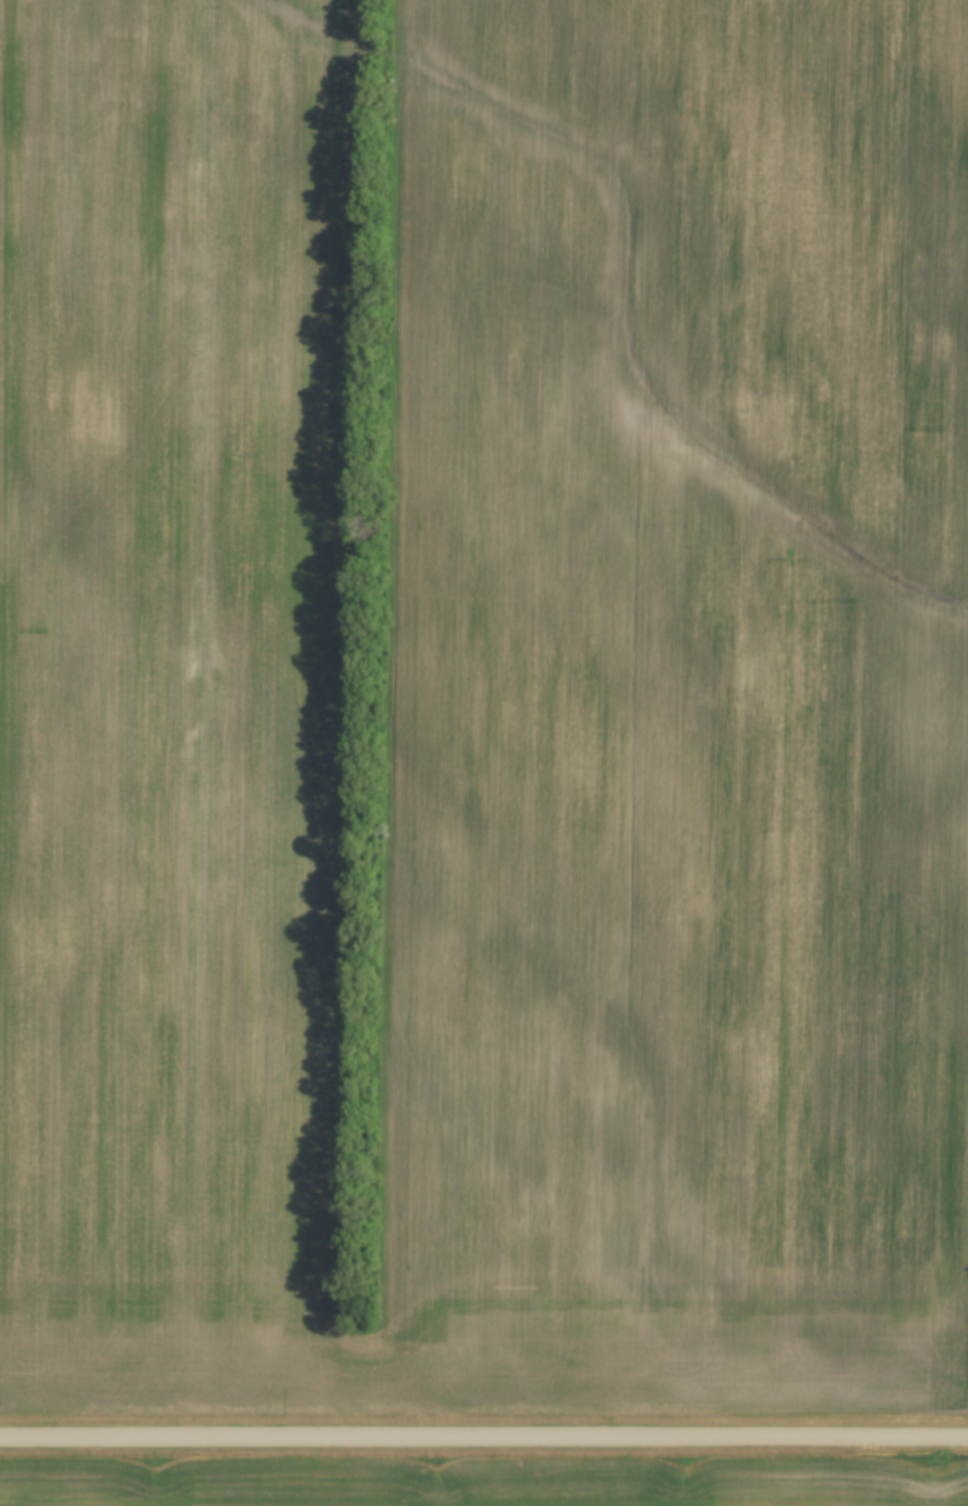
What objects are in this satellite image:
road: (484, 1438)

